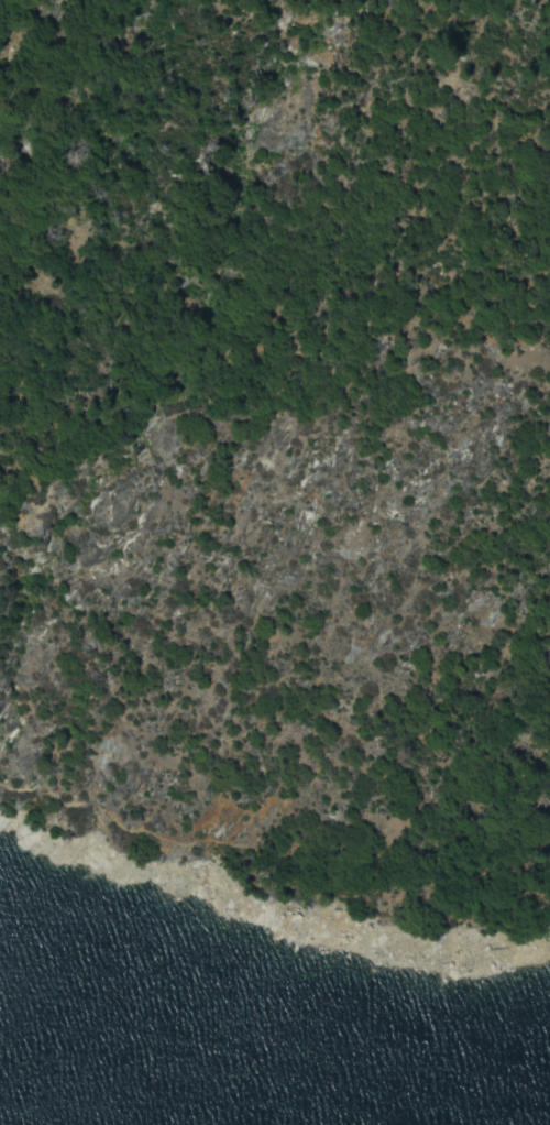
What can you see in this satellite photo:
road: (271, 864)

